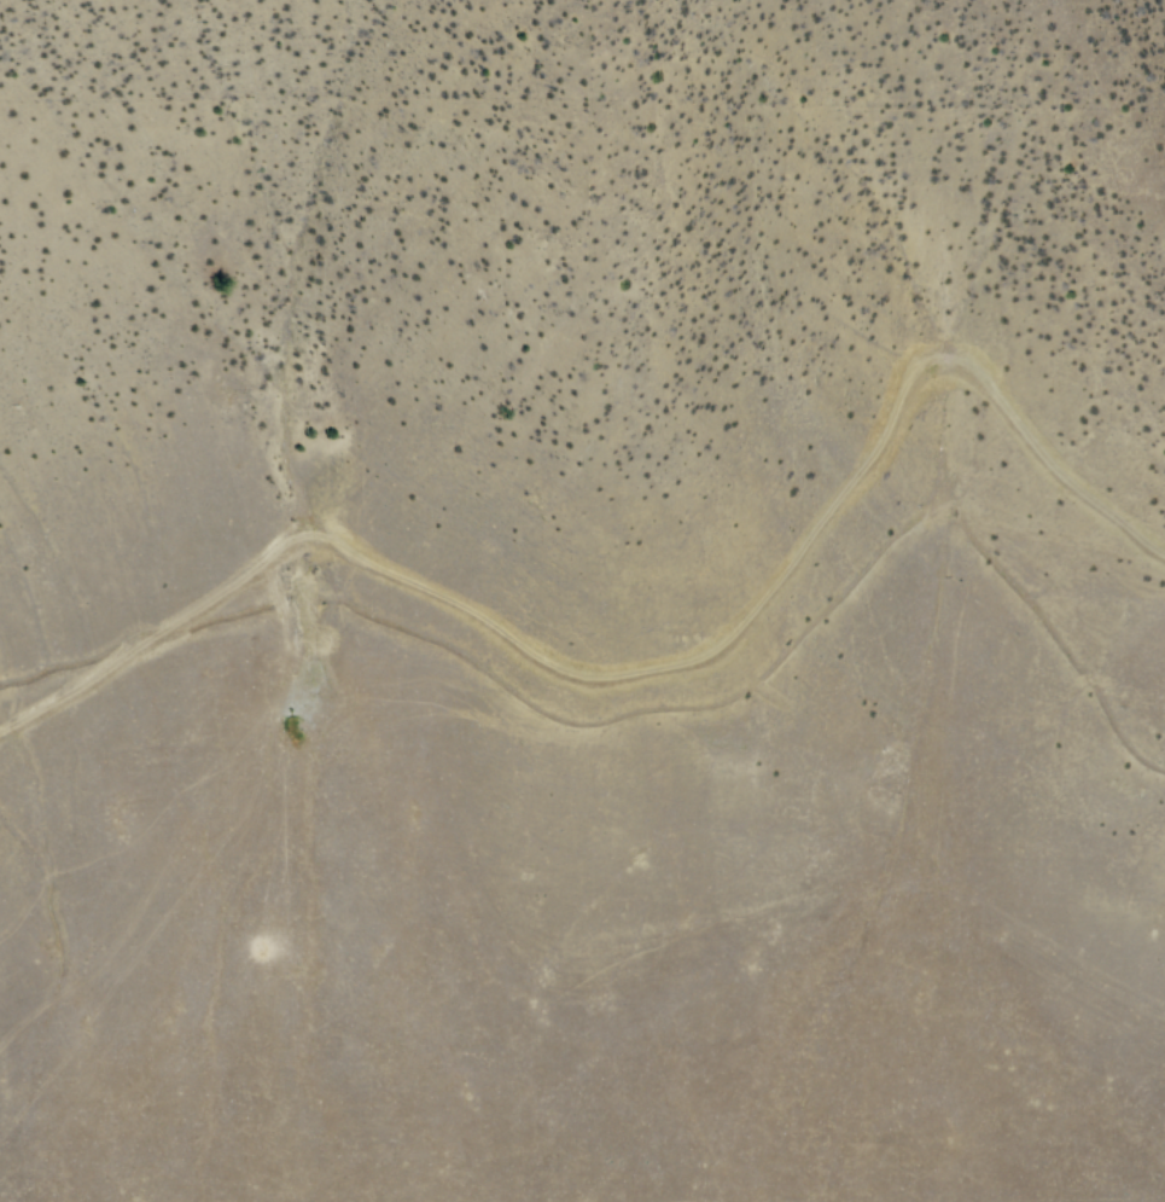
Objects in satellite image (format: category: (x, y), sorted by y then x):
road: (1148, 1200)

